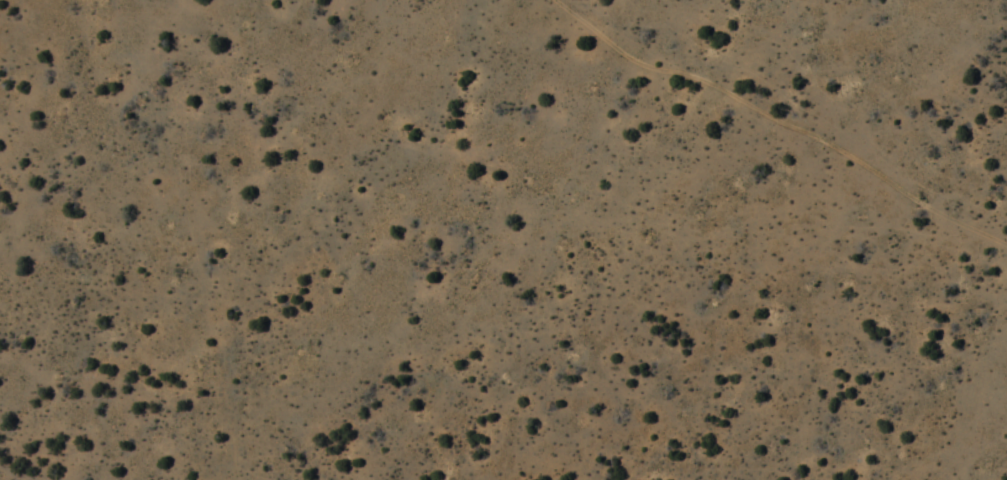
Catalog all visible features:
road: (777, 155)

